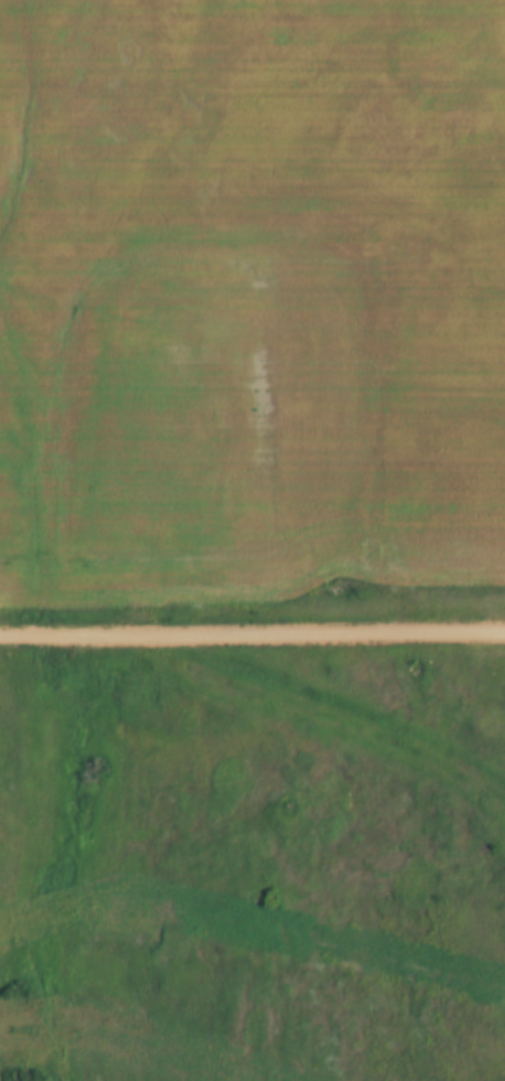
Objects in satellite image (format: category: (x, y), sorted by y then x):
road: (253, 640)

